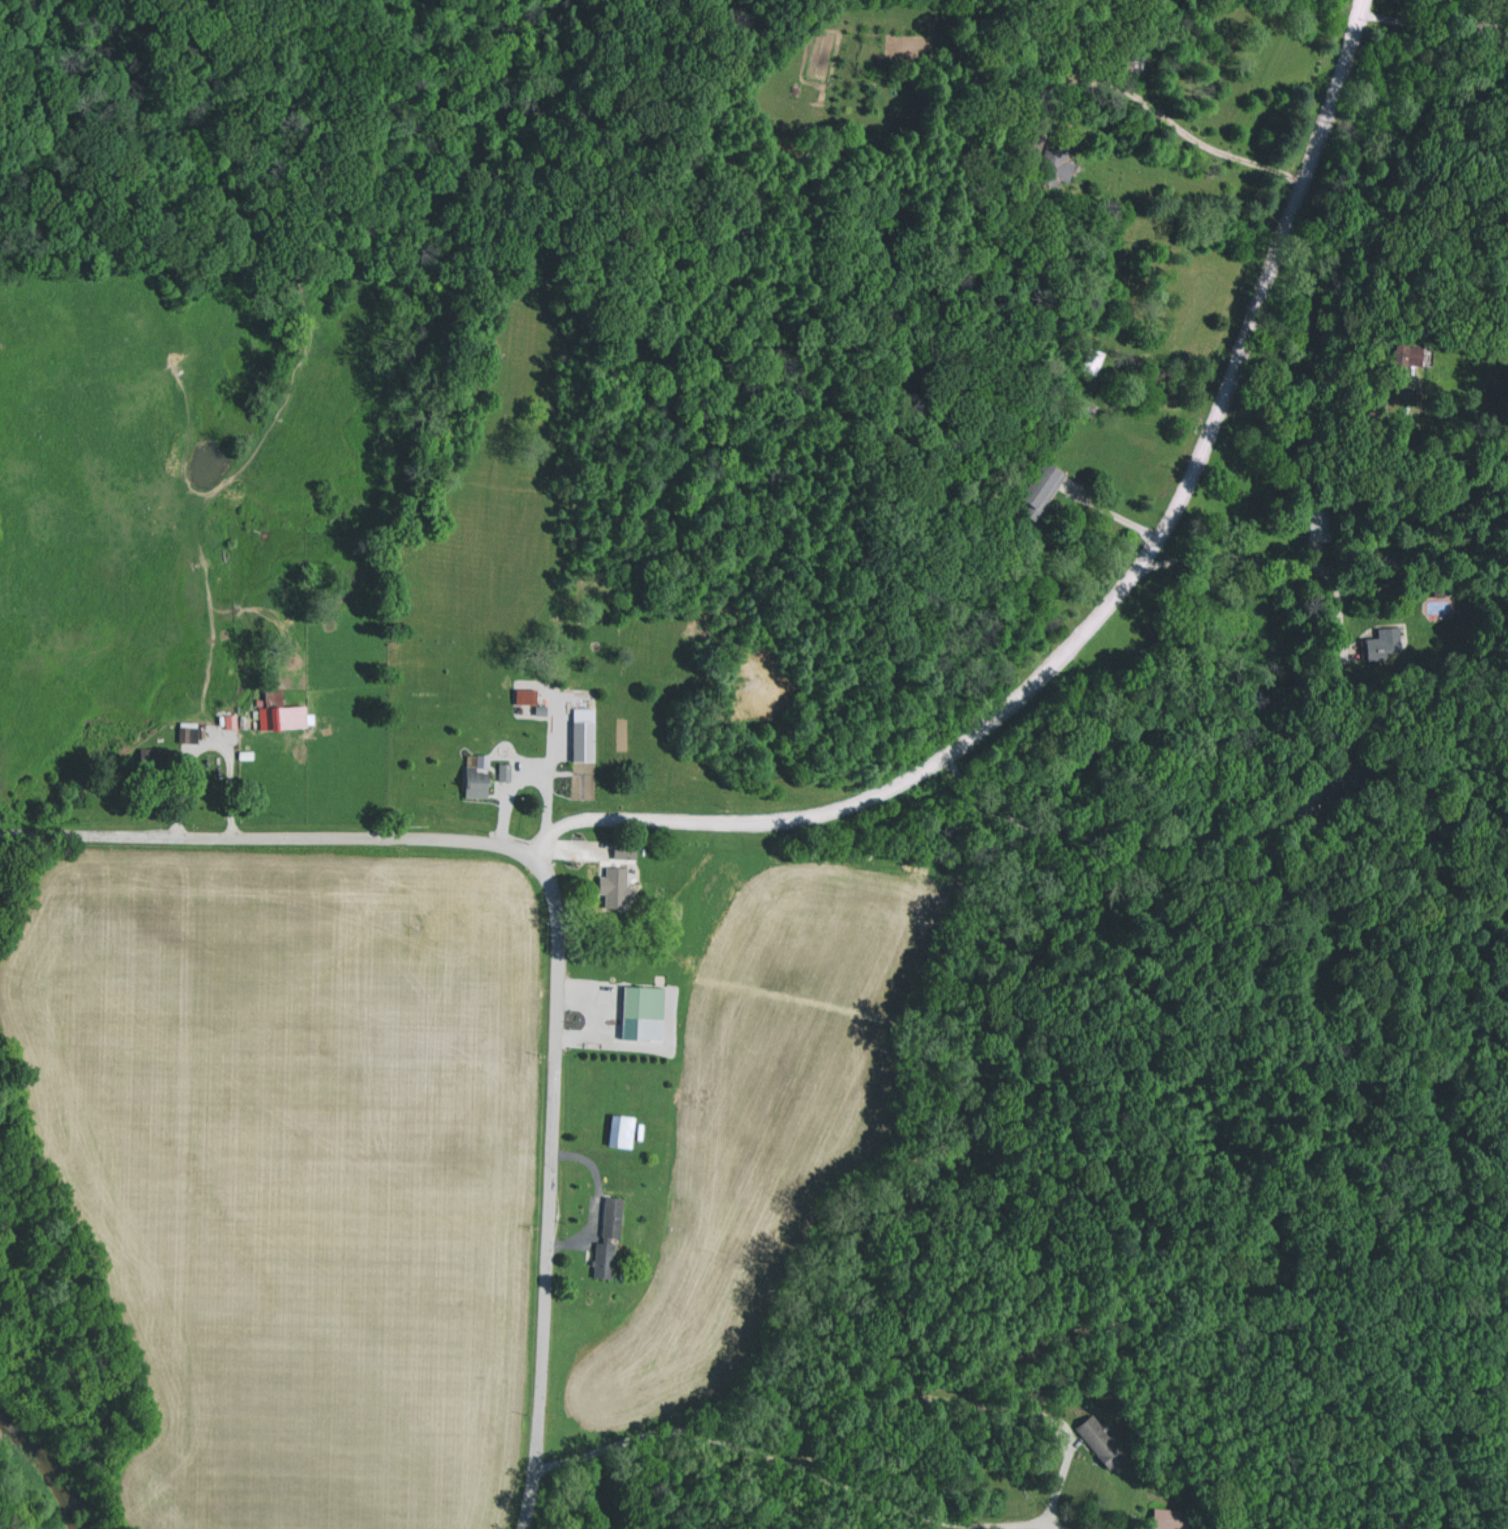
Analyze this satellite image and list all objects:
road: (1272, 562)
road: (1109, 607)
building: (529, 696)
building: (296, 717)
building: (233, 721)
building: (190, 734)
building: (587, 734)
building: (480, 783)
road: (266, 839)
building: (625, 850)
building: (620, 888)
building: (624, 1131)
road: (549, 1189)
building: (612, 1238)
road: (971, 1404)
building: (1095, 1432)
road: (797, 1466)

